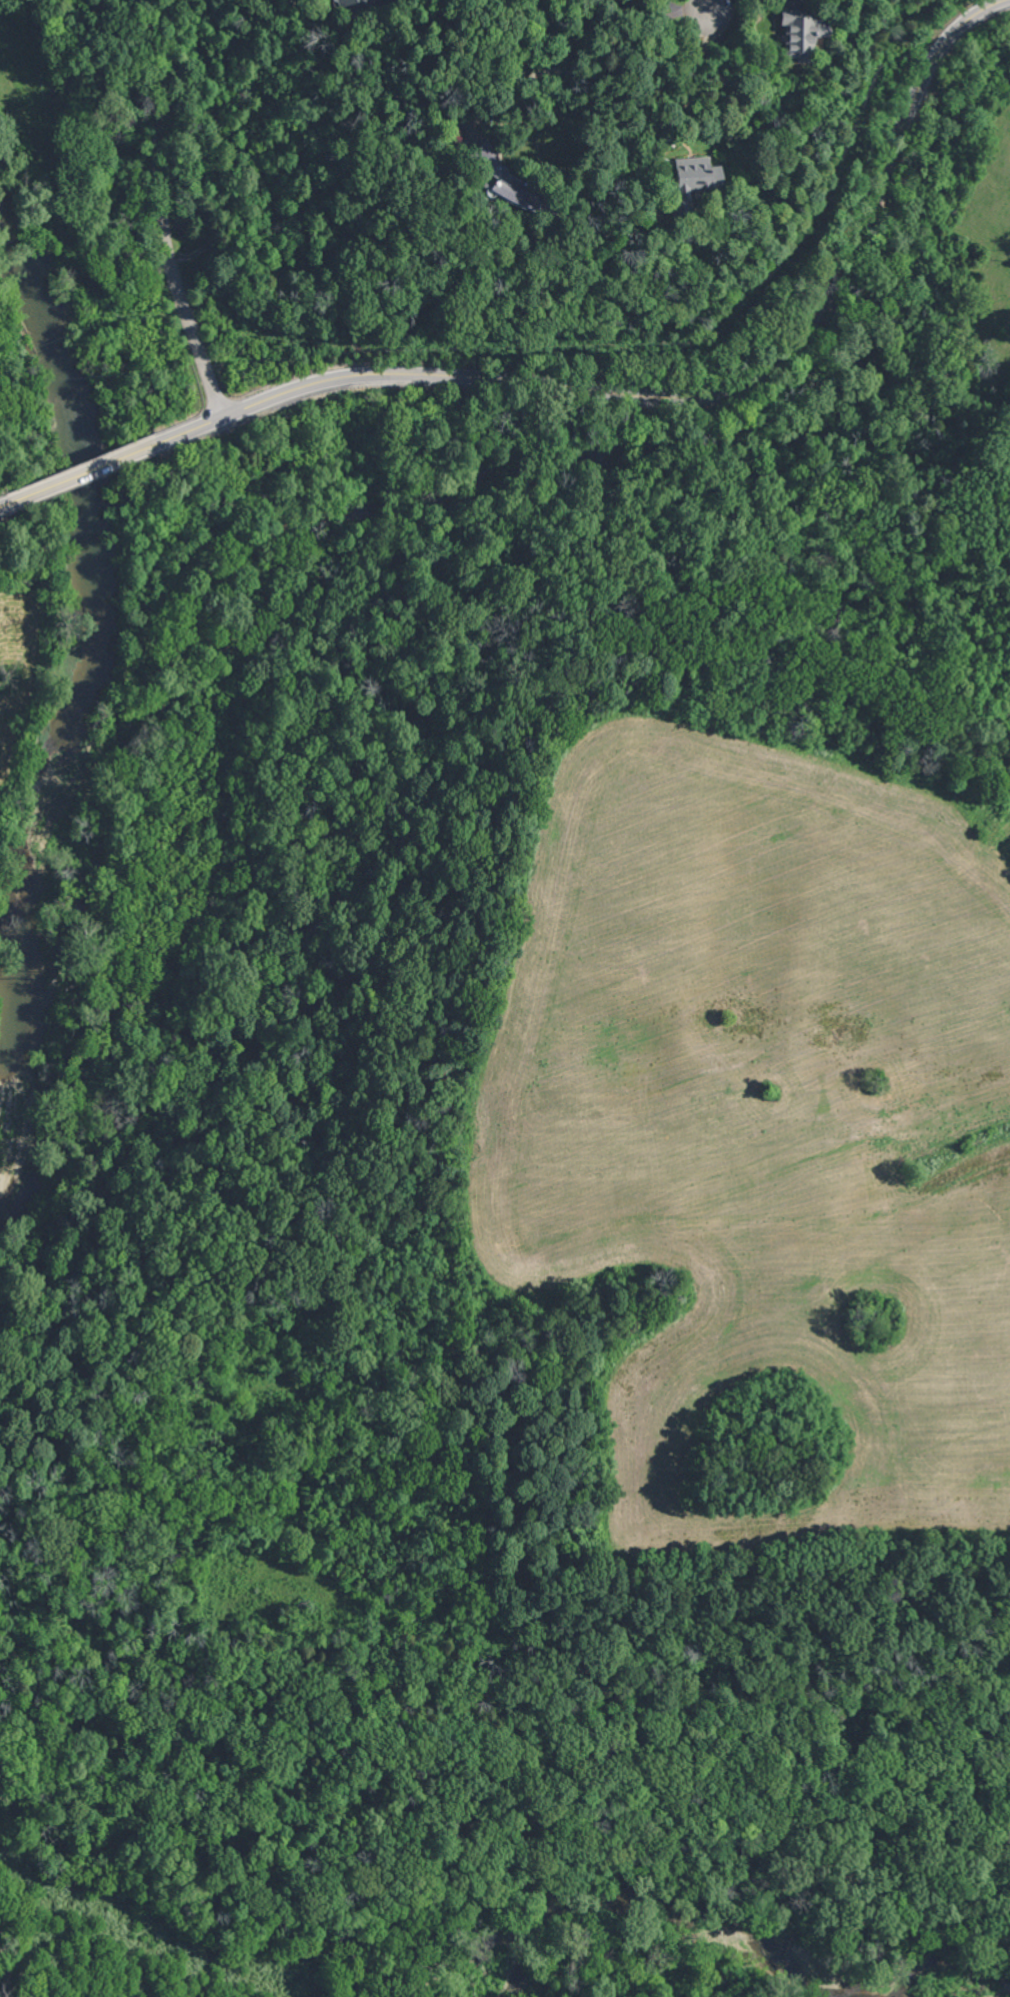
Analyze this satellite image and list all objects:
building: (349, 3)
road: (710, 3)
building: (796, 33)
road: (591, 66)
road: (678, 101)
building: (484, 177)
building: (688, 178)
road: (163, 212)
road: (681, 398)
road: (84, 472)
road: (6, 503)
river: (79, 704)

